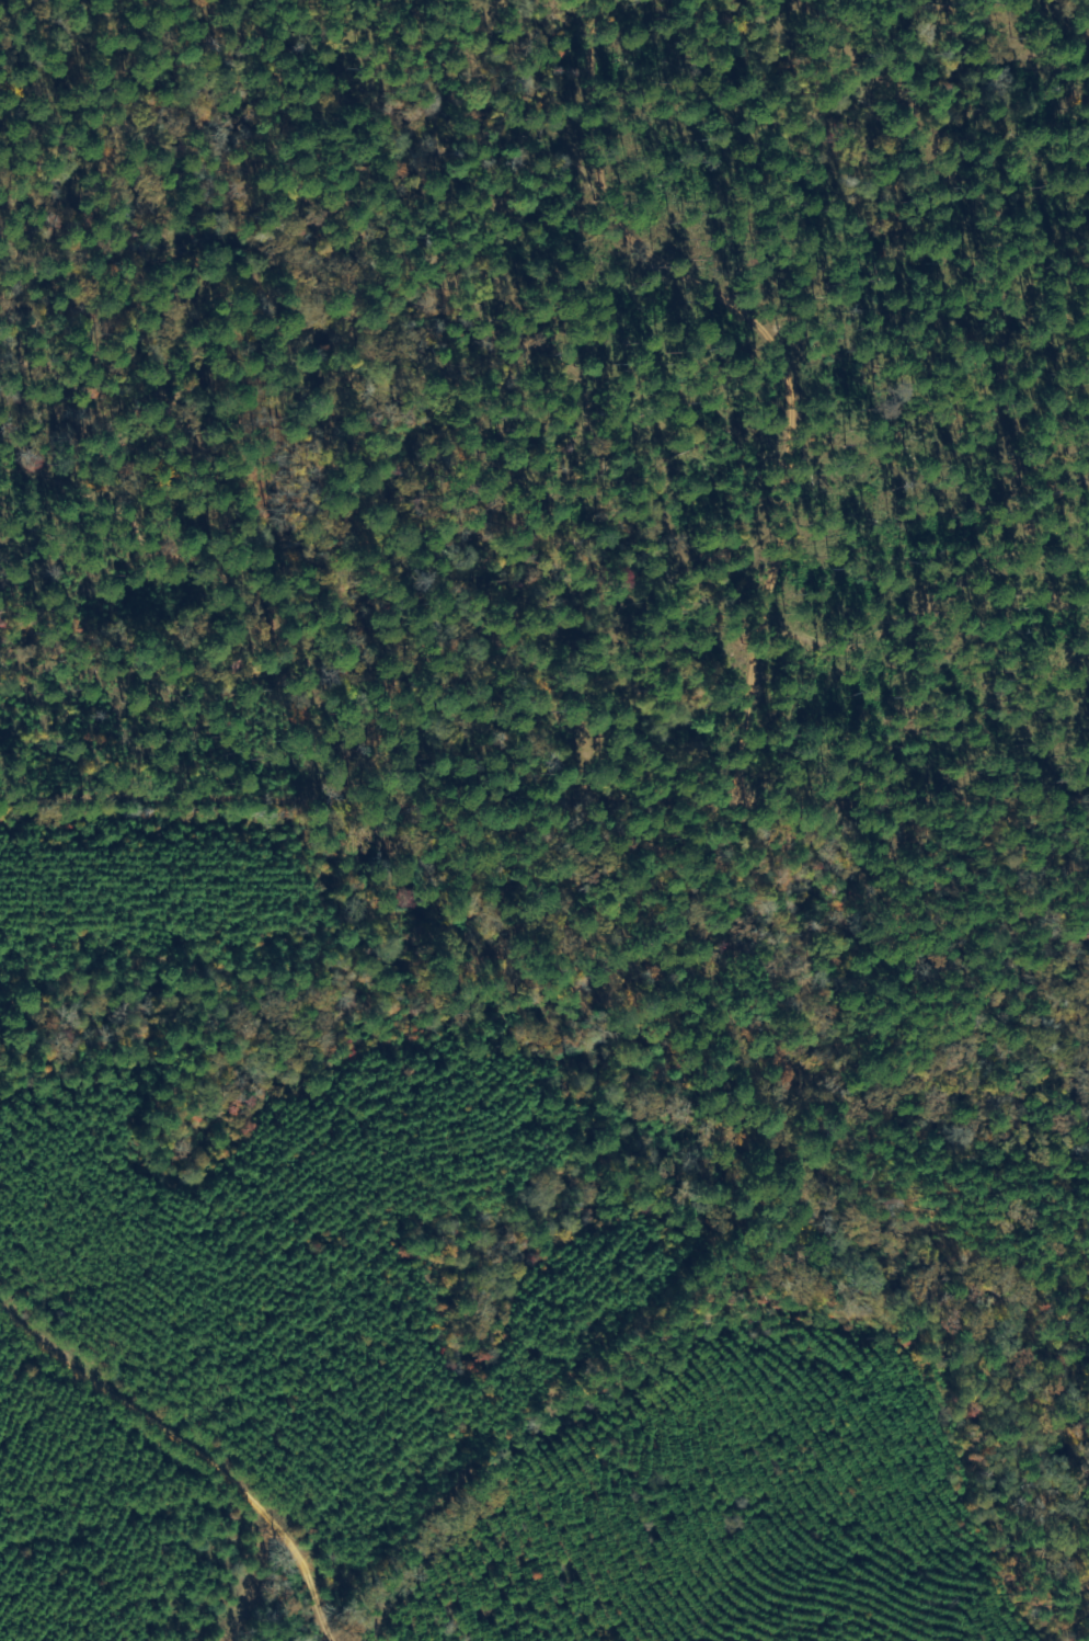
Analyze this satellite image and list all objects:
road: (632, 385)
park: (544, 411)
road: (543, 784)
road: (193, 1447)
road: (308, 1577)

